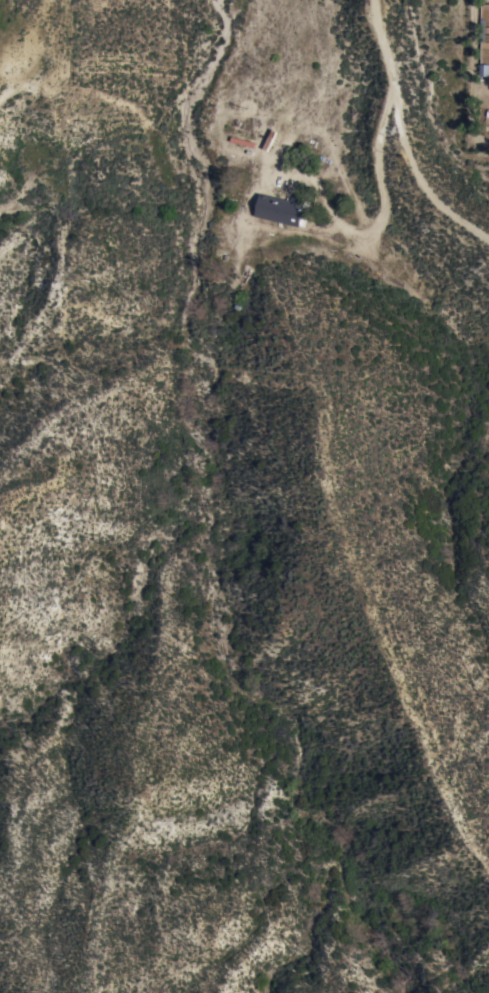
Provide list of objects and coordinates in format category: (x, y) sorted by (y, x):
road: (404, 136)
road: (383, 181)
building: (282, 210)

